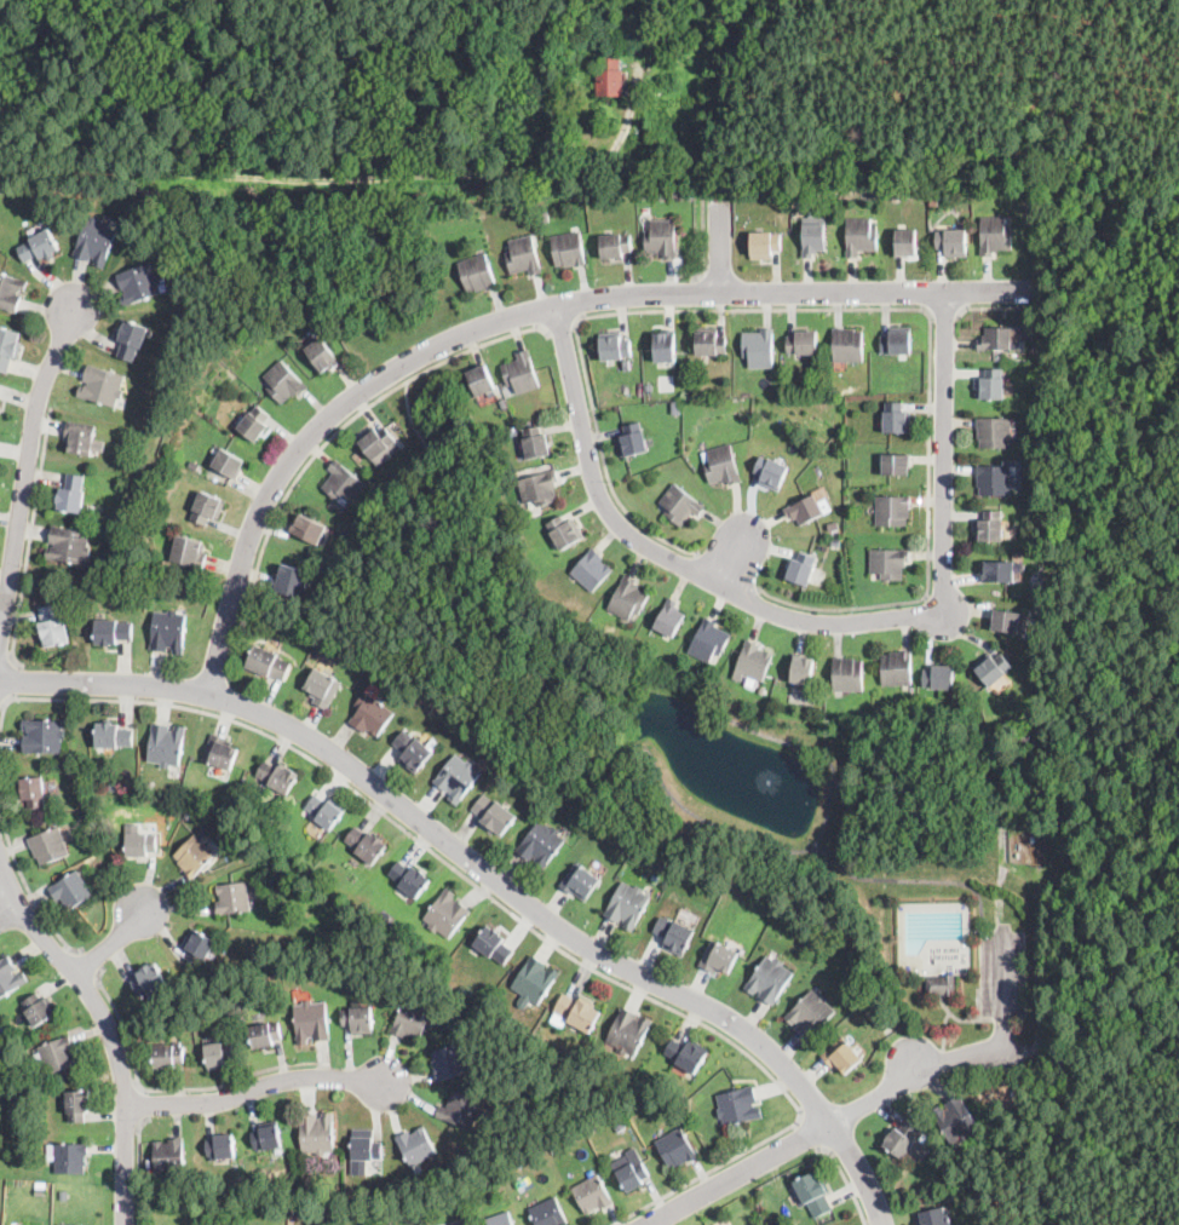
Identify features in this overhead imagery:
building: (610, 79)
building: (662, 82)
building: (874, 192)
building: (691, 197)
building: (895, 197)
building: (786, 208)
building: (799, 209)
building: (544, 217)
building: (994, 235)
building: (859, 236)
building: (662, 238)
building: (813, 240)
building: (96, 242)
road: (703, 242)
building: (951, 242)
building: (905, 243)
building: (764, 245)
building: (39, 246)
building: (616, 246)
road: (721, 246)
building: (569, 249)
building: (524, 255)
building: (478, 272)
building: (139, 283)
building: (11, 292)
road: (700, 292)
road: (978, 307)
road: (943, 314)
road: (516, 317)
road: (563, 329)
building: (131, 338)
building: (897, 338)
building: (1000, 339)
building: (803, 341)
building: (711, 343)
building: (847, 344)
building: (665, 346)
building: (7, 347)
building: (615, 347)
building: (759, 347)
building: (323, 356)
building: (713, 357)
building: (627, 366)
road: (930, 367)
building: (522, 374)
building: (482, 380)
building: (284, 383)
building: (0, 384)
building: (994, 384)
building: (103, 386)
building: (648, 387)
building: (852, 387)
building: (638, 389)
building: (504, 402)
building: (675, 408)
building: (0, 409)
building: (897, 416)
building: (255, 424)
building: (994, 431)
building: (82, 438)
building: (633, 441)
road: (328, 442)
building: (536, 443)
building: (379, 444)
road: (945, 455)
road: (602, 459)
building: (896, 462)
building: (229, 464)
building: (720, 464)
building: (195, 466)
building: (1033, 467)
building: (771, 472)
road: (25, 478)
building: (994, 478)
building: (344, 484)
building: (541, 488)
building: (73, 494)
building: (680, 504)
building: (208, 507)
building: (892, 508)
building: (809, 510)
building: (835, 524)
building: (991, 524)
building: (309, 529)
building: (565, 533)
road: (30, 540)
building: (836, 540)
building: (69, 545)
building: (1036, 546)
building: (190, 552)
building: (1017, 553)
road: (671, 558)
road: (735, 560)
building: (888, 562)
building: (801, 569)
building: (592, 570)
road: (730, 571)
building: (997, 571)
building: (292, 581)
building: (1035, 586)
building: (629, 600)
building: (1049, 602)
building: (671, 619)
building: (1006, 621)
building: (52, 627)
building: (113, 632)
building: (169, 632)
building: (708, 640)
building: (753, 661)
building: (269, 663)
building: (896, 668)
building: (803, 669)
building: (994, 669)
building: (847, 674)
building: (938, 678)
road: (15, 681)
building: (323, 689)
building: (761, 689)
road: (222, 696)
road: (2, 707)
building: (937, 707)
building: (372, 715)
building: (44, 736)
building: (114, 736)
building: (166, 746)
building: (415, 752)
building: (220, 753)
building: (280, 777)
building: (458, 777)
building: (149, 783)
building: (113, 787)
building: (33, 792)
building: (199, 799)
building: (84, 804)
building: (327, 811)
building: (91, 812)
building: (189, 815)
building: (494, 815)
building: (266, 826)
building: (139, 841)
building: (367, 845)
building: (541, 845)
building: (50, 846)
building: (195, 855)
road: (488, 873)
building: (412, 880)
building: (580, 881)
road: (25, 882)
building: (71, 891)
road: (7, 898)
building: (232, 899)
road: (496, 902)
building: (628, 905)
building: (447, 914)
building: (675, 934)
road: (111, 942)
building: (495, 947)
building: (199, 948)
building: (717, 957)
road: (88, 964)
parking lot: (1002, 972)
building: (339, 973)
building: (8, 974)
road: (1002, 977)
building: (150, 979)
building: (769, 979)
building: (535, 980)
building: (941, 985)
building: (248, 988)
building: (39, 1008)
building: (580, 1012)
building: (810, 1013)
building: (880, 1013)
building: (360, 1019)
building: (413, 1022)
building: (312, 1023)
road: (108, 1026)
building: (629, 1031)
road: (1003, 1034)
building: (265, 1035)
road: (970, 1051)
building: (56, 1054)
building: (689, 1054)
building: (219, 1056)
building: (842, 1056)
building: (168, 1057)
building: (449, 1062)
road: (173, 1089)
road: (255, 1089)
road: (878, 1094)
road: (140, 1104)
building: (79, 1105)
building: (737, 1106)
building: (460, 1110)
building: (487, 1112)
building: (954, 1120)
building: (619, 1123)
building: (317, 1133)
road: (810, 1134)
building: (902, 1137)
building: (269, 1138)
building: (922, 1138)
building: (416, 1146)
building: (222, 1148)
building: (368, 1149)
building: (677, 1149)
building: (169, 1156)
building: (69, 1157)
road: (138, 1168)
road: (740, 1172)
building: (634, 1177)
road: (847, 1180)
building: (812, 1194)
building: (593, 1195)
building: (64, 1196)
building: (386, 1213)
building: (551, 1213)
building: (936, 1217)
building: (501, 1219)
building: (69, 1224)
road: (620, 1224)
building: (714, 1224)
building: (776, 1224)

